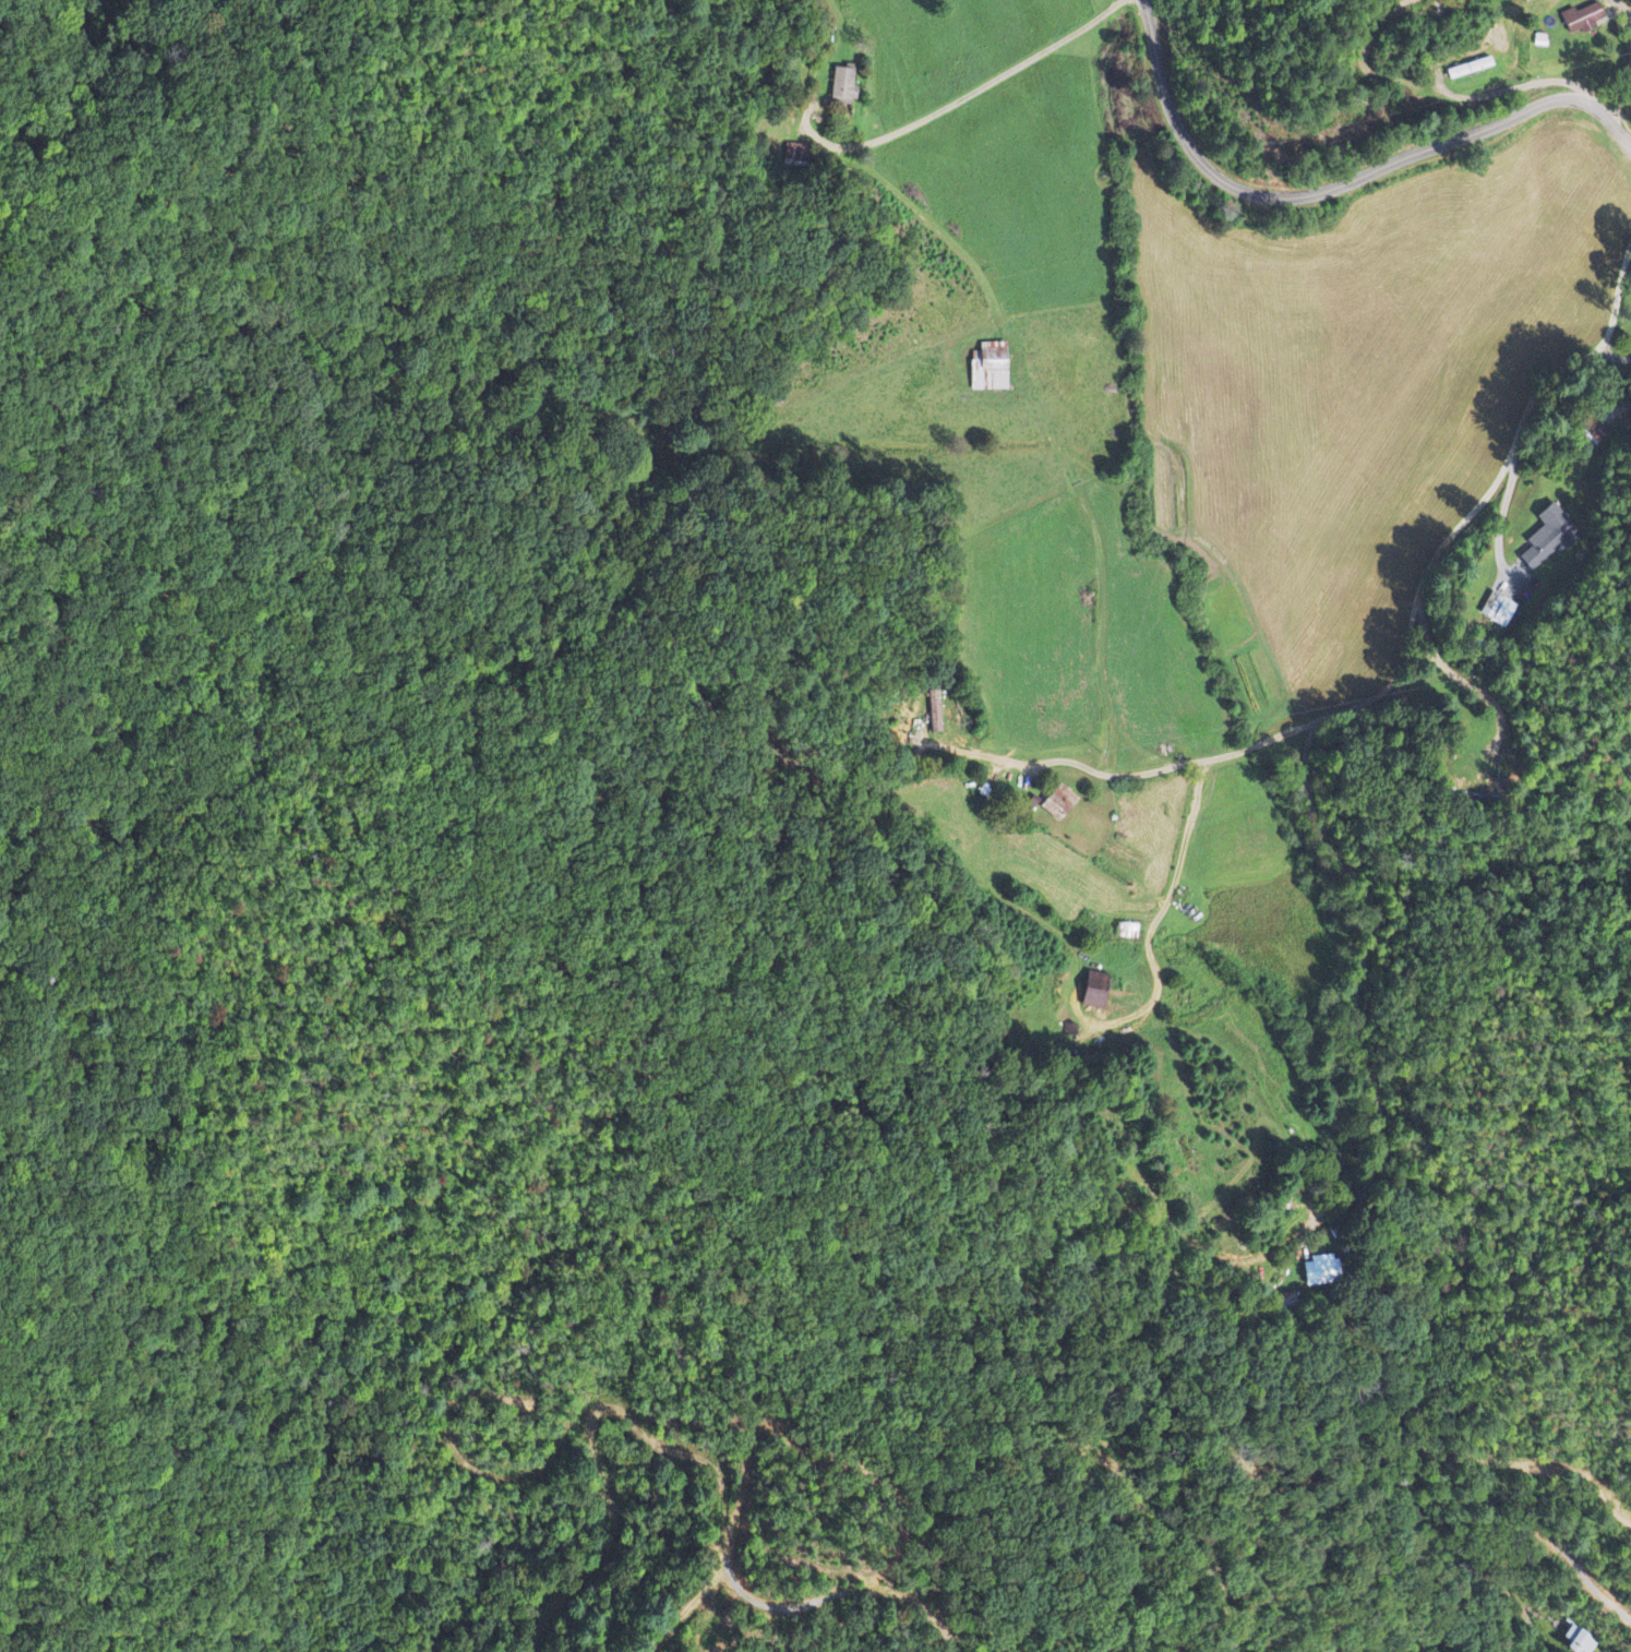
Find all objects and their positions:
building: (1582, 20)
building: (842, 86)
road: (1344, 181)
building: (990, 368)
building: (1552, 534)
road: (1425, 585)
road: (1521, 677)
building: (1094, 991)
building: (1579, 1641)

